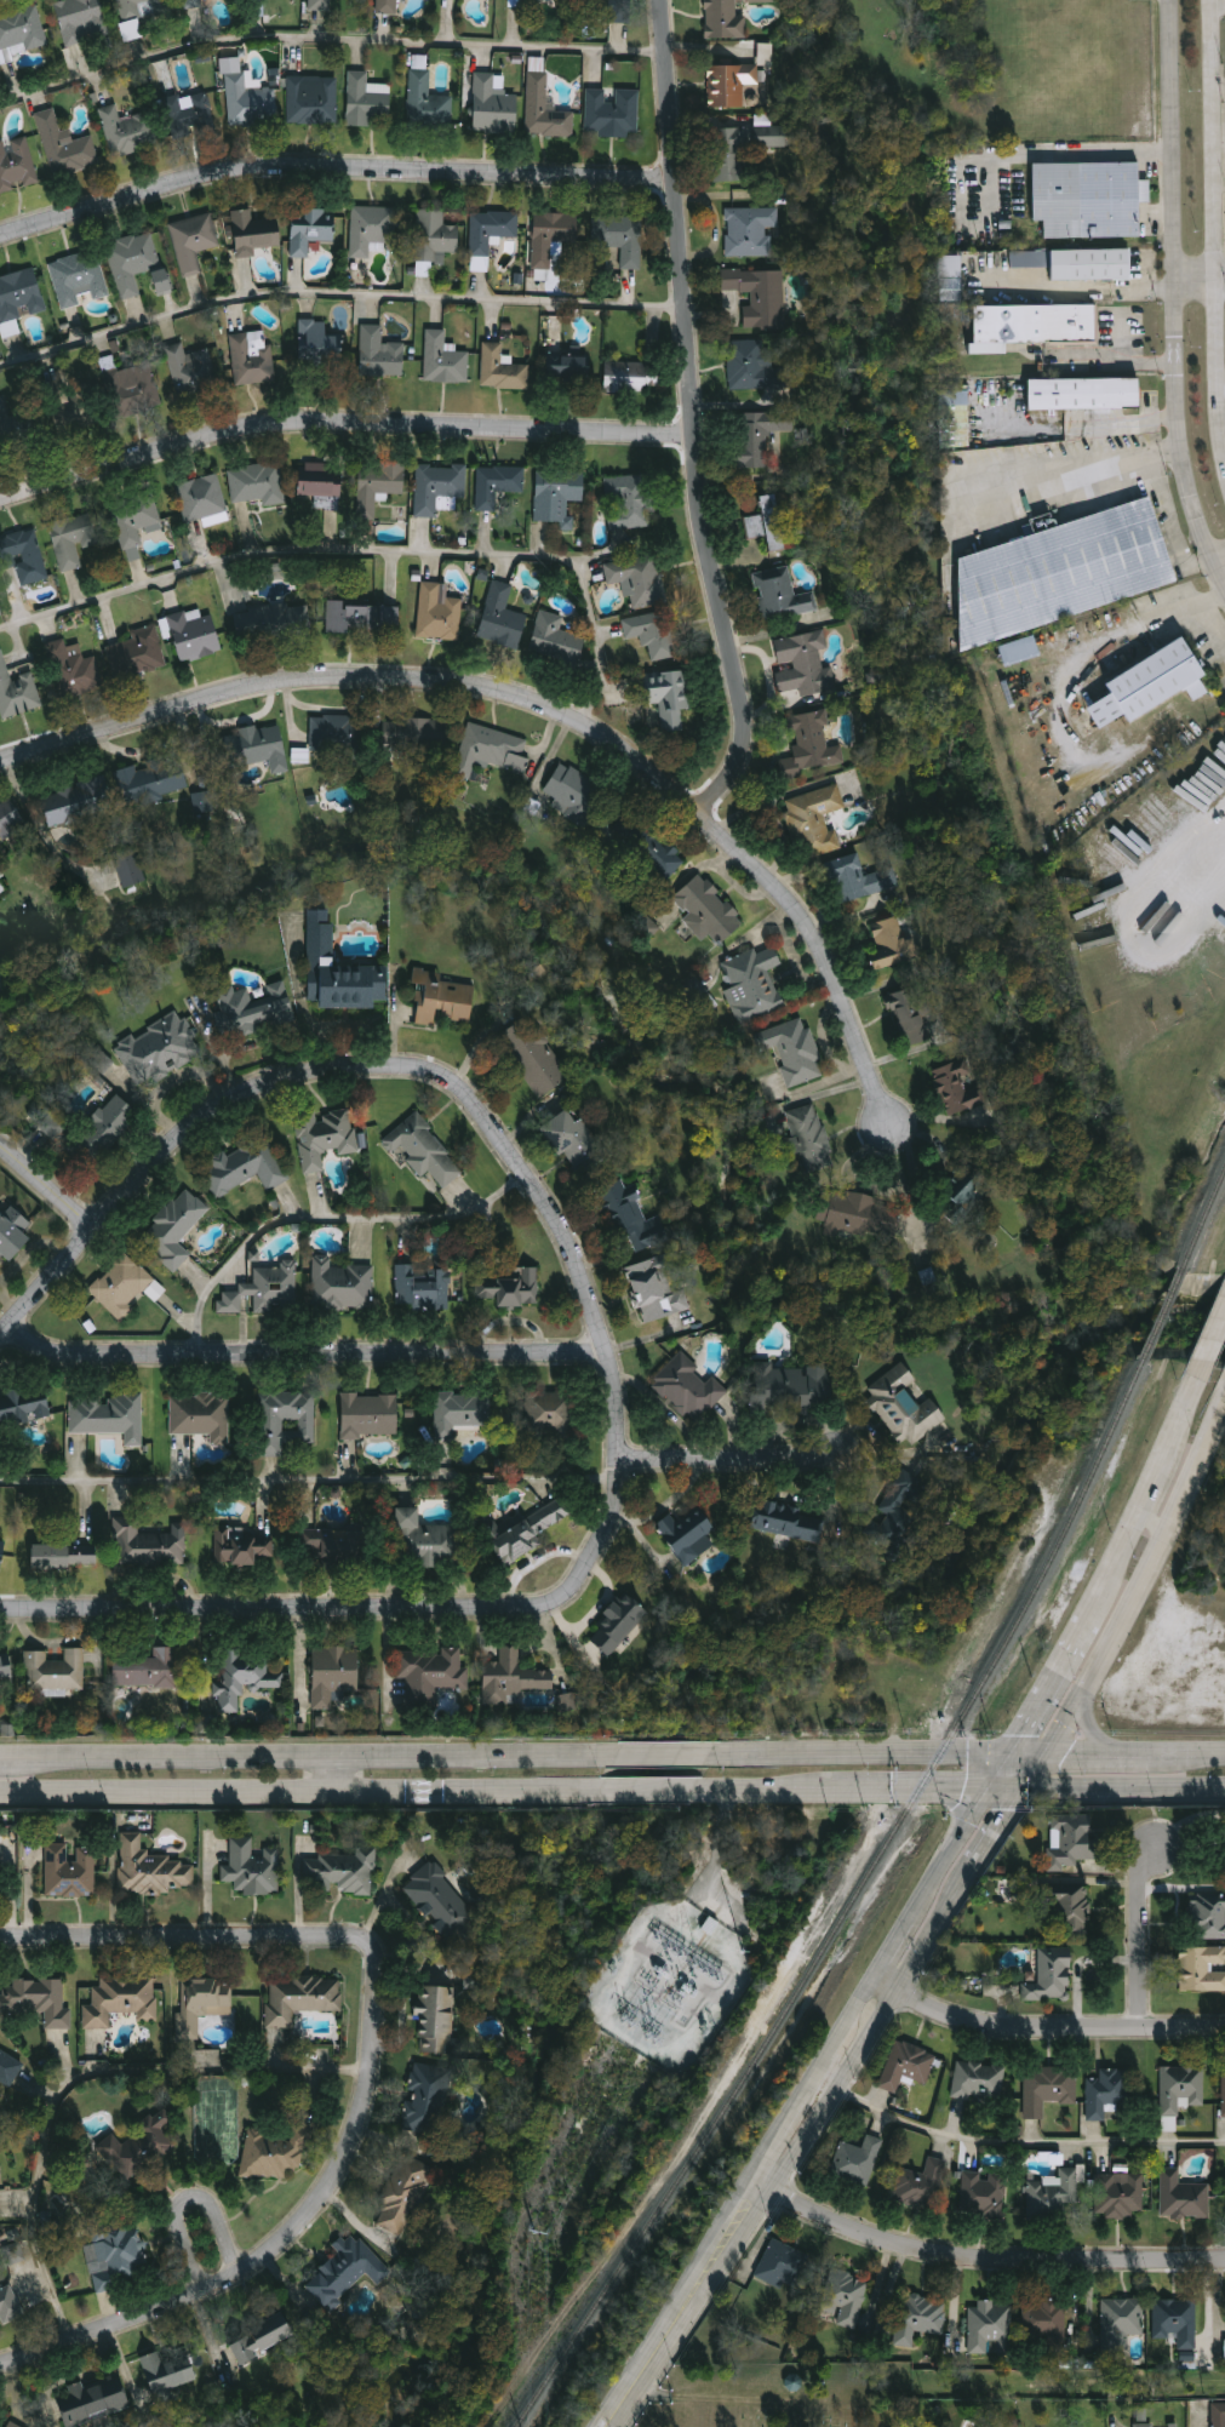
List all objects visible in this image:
building: (189, 2)
building: (321, 5)
building: (141, 7)
building: (388, 7)
building: (613, 11)
building: (727, 19)
building: (81, 21)
building: (21, 30)
road: (328, 36)
building: (765, 55)
building: (731, 85)
building: (313, 101)
building: (366, 101)
building: (428, 105)
building: (494, 107)
building: (262, 109)
building: (545, 111)
building: (191, 113)
building: (613, 114)
building: (127, 132)
building: (773, 137)
building: (65, 148)
road: (1104, 150)
building: (727, 154)
building: (16, 165)
road: (332, 171)
building: (1091, 200)
building: (372, 229)
building: (311, 230)
building: (491, 230)
building: (750, 231)
building: (256, 233)
road: (1214, 233)
building: (436, 237)
building: (549, 237)
building: (622, 239)
building: (194, 242)
building: (1029, 258)
building: (137, 264)
building: (1101, 265)
building: (79, 277)
building: (949, 277)
road: (1069, 284)
road: (1197, 284)
road: (337, 291)
building: (21, 296)
building: (760, 296)
road: (1172, 298)
building: (1038, 324)
building: (320, 342)
building: (380, 355)
building: (247, 359)
building: (445, 360)
road: (1121, 364)
building: (568, 368)
building: (502, 370)
building: (754, 370)
building: (191, 371)
building: (634, 377)
road: (1221, 383)
building: (136, 390)
building: (1081, 393)
building: (78, 408)
road: (692, 418)
building: (12, 419)
road: (342, 427)
building: (757, 436)
building: (258, 485)
building: (321, 485)
building: (498, 485)
building: (379, 486)
building: (440, 490)
building: (559, 496)
building: (202, 499)
building: (630, 503)
building: (134, 523)
building: (769, 523)
building: (73, 540)
road: (370, 548)
building: (24, 556)
road: (1219, 563)
building: (1066, 571)
building: (639, 580)
building: (782, 595)
building: (439, 614)
building: (364, 618)
building: (503, 619)
building: (274, 623)
road: (1209, 623)
building: (653, 634)
building: (195, 637)
building: (559, 642)
building: (1021, 651)
building: (138, 654)
building: (803, 664)
road: (1075, 668)
building: (74, 670)
building: (1152, 685)
building: (17, 692)
building: (669, 698)
road: (545, 710)
building: (336, 734)
building: (418, 737)
building: (811, 745)
building: (257, 748)
building: (492, 751)
building: (151, 782)
building: (574, 794)
building: (201, 801)
building: (78, 802)
building: (10, 819)
building: (817, 820)
building: (647, 847)
road: (1202, 848)
building: (130, 869)
building: (1, 874)
building: (855, 880)
building: (1, 888)
building: (708, 910)
building: (892, 945)
building: (340, 972)
building: (754, 984)
building: (440, 1000)
building: (254, 1008)
building: (910, 1018)
building: (159, 1049)
building: (794, 1051)
building: (534, 1058)
road: (390, 1064)
building: (958, 1088)
building: (51, 1123)
building: (102, 1132)
building: (325, 1138)
building: (811, 1138)
building: (576, 1143)
building: (423, 1151)
building: (248, 1164)
road: (46, 1191)
building: (967, 1192)
building: (858, 1215)
railway: (1202, 1215)
road: (327, 1218)
building: (634, 1219)
building: (174, 1230)
building: (12, 1233)
building: (122, 1286)
building: (342, 1287)
building: (422, 1288)
building: (508, 1289)
building: (656, 1290)
building: (265, 1292)
railway: (1161, 1312)
road: (1210, 1345)
road: (305, 1356)
building: (791, 1386)
building: (688, 1387)
building: (24, 1407)
building: (903, 1407)
building: (460, 1412)
building: (201, 1415)
building: (108, 1416)
building: (370, 1416)
road: (1179, 1416)
building: (287, 1421)
building: (549, 1425)
road: (732, 1463)
road: (310, 1479)
road: (1150, 1484)
building: (900, 1512)
building: (789, 1521)
road: (1151, 1523)
building: (533, 1529)
building: (688, 1535)
building: (428, 1542)
building: (148, 1546)
building: (337, 1547)
building: (245, 1549)
building: (2, 1551)
road: (1157, 1551)
building: (65, 1556)
road: (1109, 1570)
road: (359, 1612)
building: (618, 1625)
building: (6, 1671)
building: (56, 1671)
building: (148, 1671)
building: (429, 1675)
building: (334, 1677)
building: (245, 1678)
building: (514, 1679)
road: (1048, 1687)
building: (565, 1702)
road: (1064, 1724)
road: (1094, 1731)
traffic signals: (1015, 1747)
road: (1032, 1747)
traffic signals: (1049, 1747)
road: (1192, 1750)
road: (1104, 1751)
road: (863, 1752)
road: (656, 1755)
road: (7, 1762)
road: (308, 1762)
road: (1002, 1765)
road: (1035, 1767)
road: (349, 1776)
road: (909, 1785)
traffic signals: (990, 1785)
road: (1004, 1785)
road: (1122, 1785)
road: (761, 1786)
traffic signals: (1020, 1786)
road: (645, 1788)
road: (297, 1791)
building: (1071, 1845)
building: (1221, 1850)
road: (951, 1851)
building: (0, 1862)
building: (153, 1868)
building: (254, 1868)
building: (70, 1870)
building: (342, 1872)
building: (439, 1900)
railway: (851, 1904)
building: (1070, 1911)
building: (1208, 1913)
building: (710, 1925)
road: (1141, 1936)
road: (894, 1950)
building: (1202, 1969)
building: (1051, 1976)
power substation: (671, 1984)
road: (894, 1993)
building: (302, 1997)
building: (39, 2000)
building: (121, 2000)
building: (204, 2002)
road: (858, 2008)
building: (436, 2020)
road: (1044, 2030)
road: (829, 2056)
building: (208, 2057)
building: (908, 2066)
building: (8, 2070)
road: (81, 2074)
road: (366, 2074)
building: (979, 2082)
road: (828, 2083)
building: (1048, 2089)
building: (1181, 2089)
building: (1111, 2095)
building: (1224, 2095)
building: (0, 2101)
building: (427, 2103)
building: (1168, 2124)
road: (783, 2133)
road: (1026, 2141)
building: (139, 2147)
building: (275, 2156)
building: (857, 2162)
building: (921, 2186)
building: (403, 2194)
building: (984, 2194)
road: (189, 2196)
building: (1055, 2196)
building: (1120, 2196)
building: (1184, 2197)
building: (1, 2204)
building: (12, 2253)
building: (116, 2255)
road: (986, 2261)
building: (783, 2266)
building: (348, 2271)
building: (845, 2299)
building: (10, 2305)
road: (682, 2309)
building: (918, 2319)
building: (1123, 2319)
building: (1046, 2322)
building: (1175, 2322)
building: (991, 2329)
building: (264, 2339)
building: (171, 2370)
park: (875, 2393)
park: (784, 2400)
building: (95, 2402)
building: (1219, 2415)
building: (1173, 2425)
building: (24, 2426)
building: (1145, 2426)

